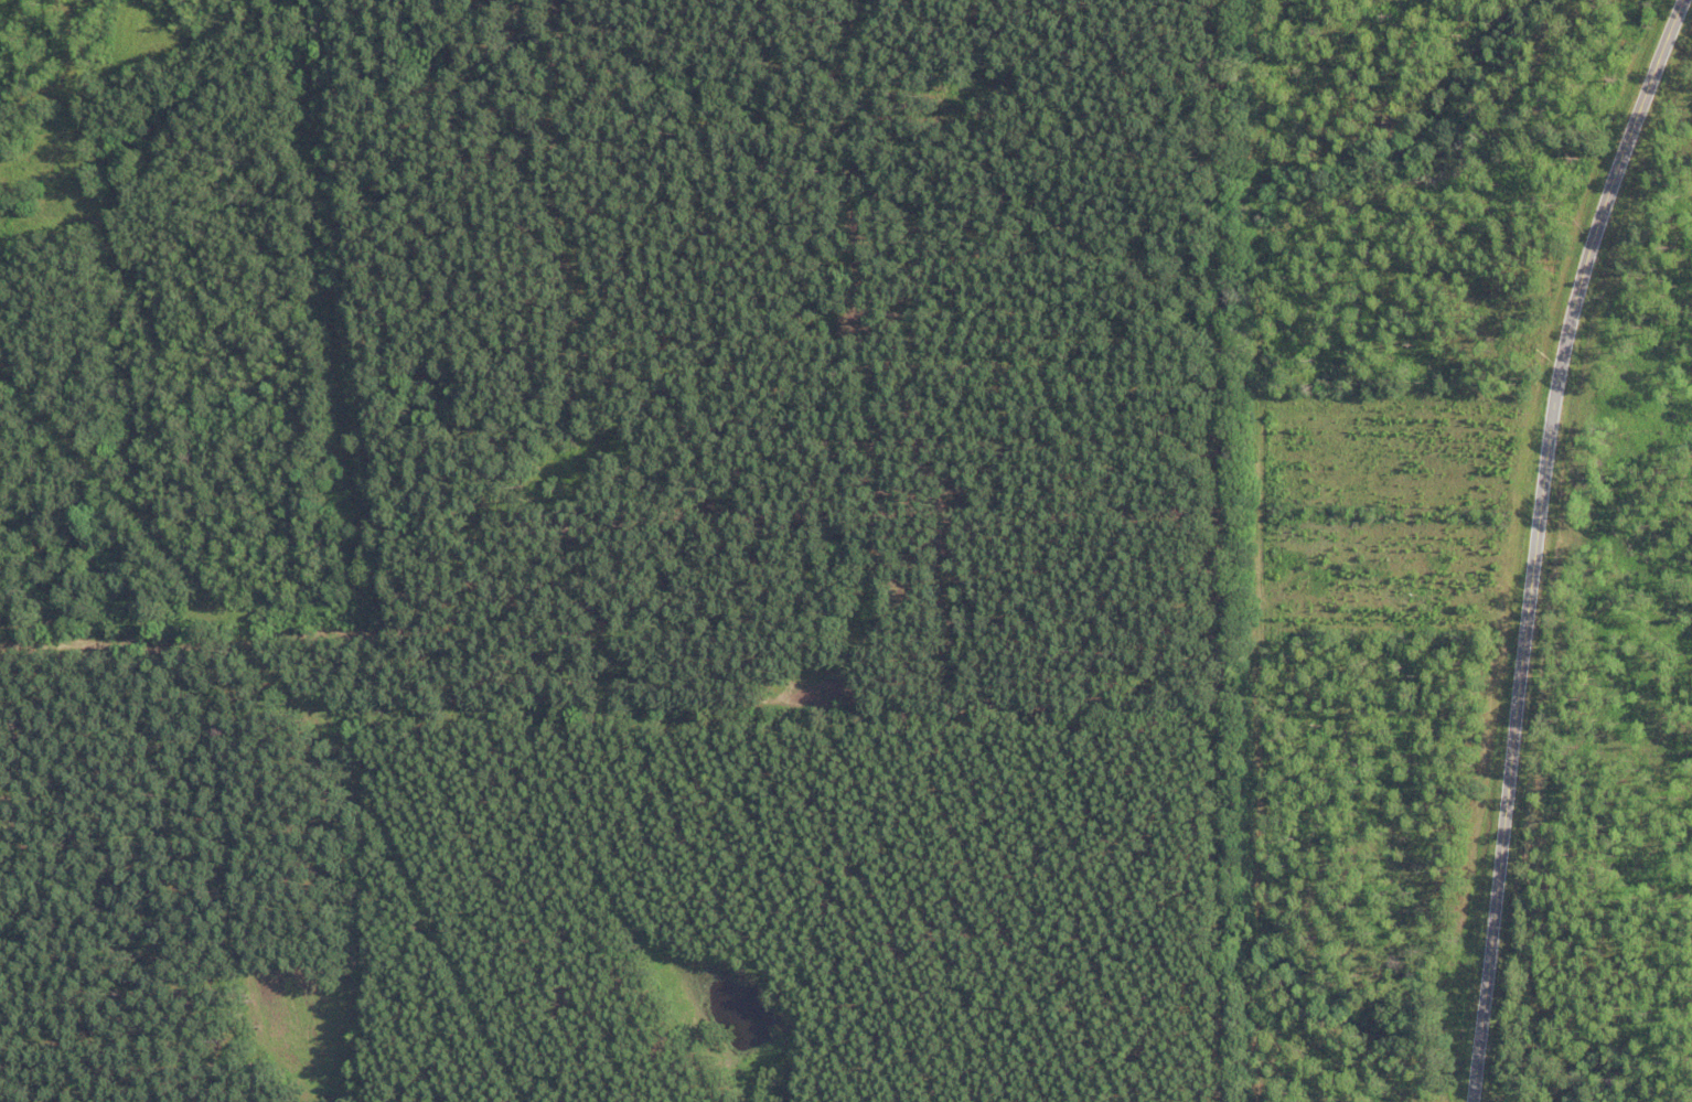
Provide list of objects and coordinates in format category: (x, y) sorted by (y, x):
road: (1529, 541)

